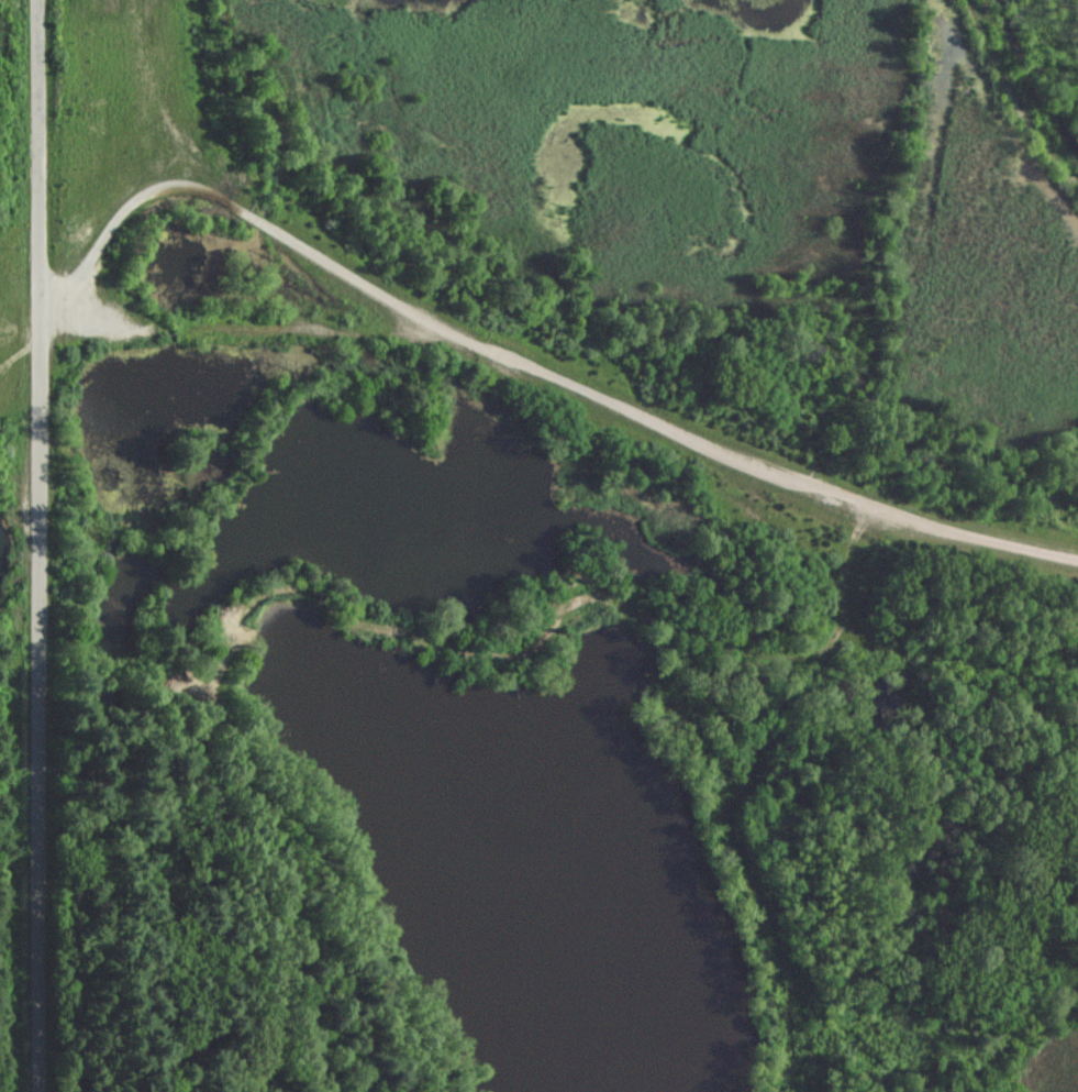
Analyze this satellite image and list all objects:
road: (532, 366)
road: (41, 545)

